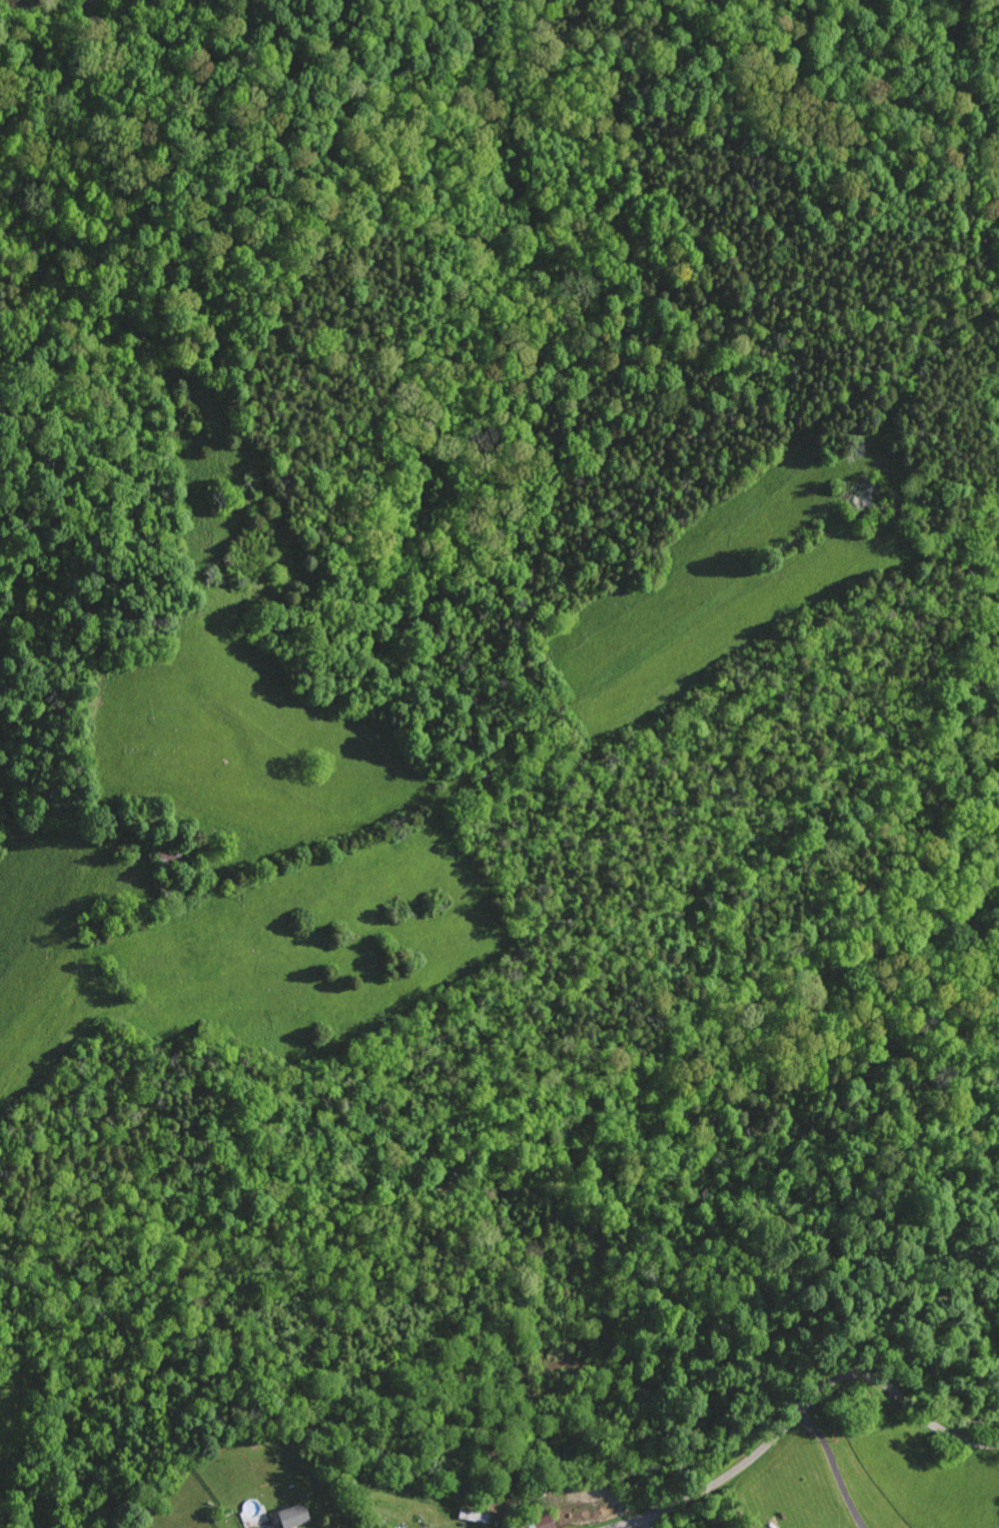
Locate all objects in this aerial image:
road: (349, 804)
road: (799, 1412)
road: (830, 1469)
building: (287, 1516)

